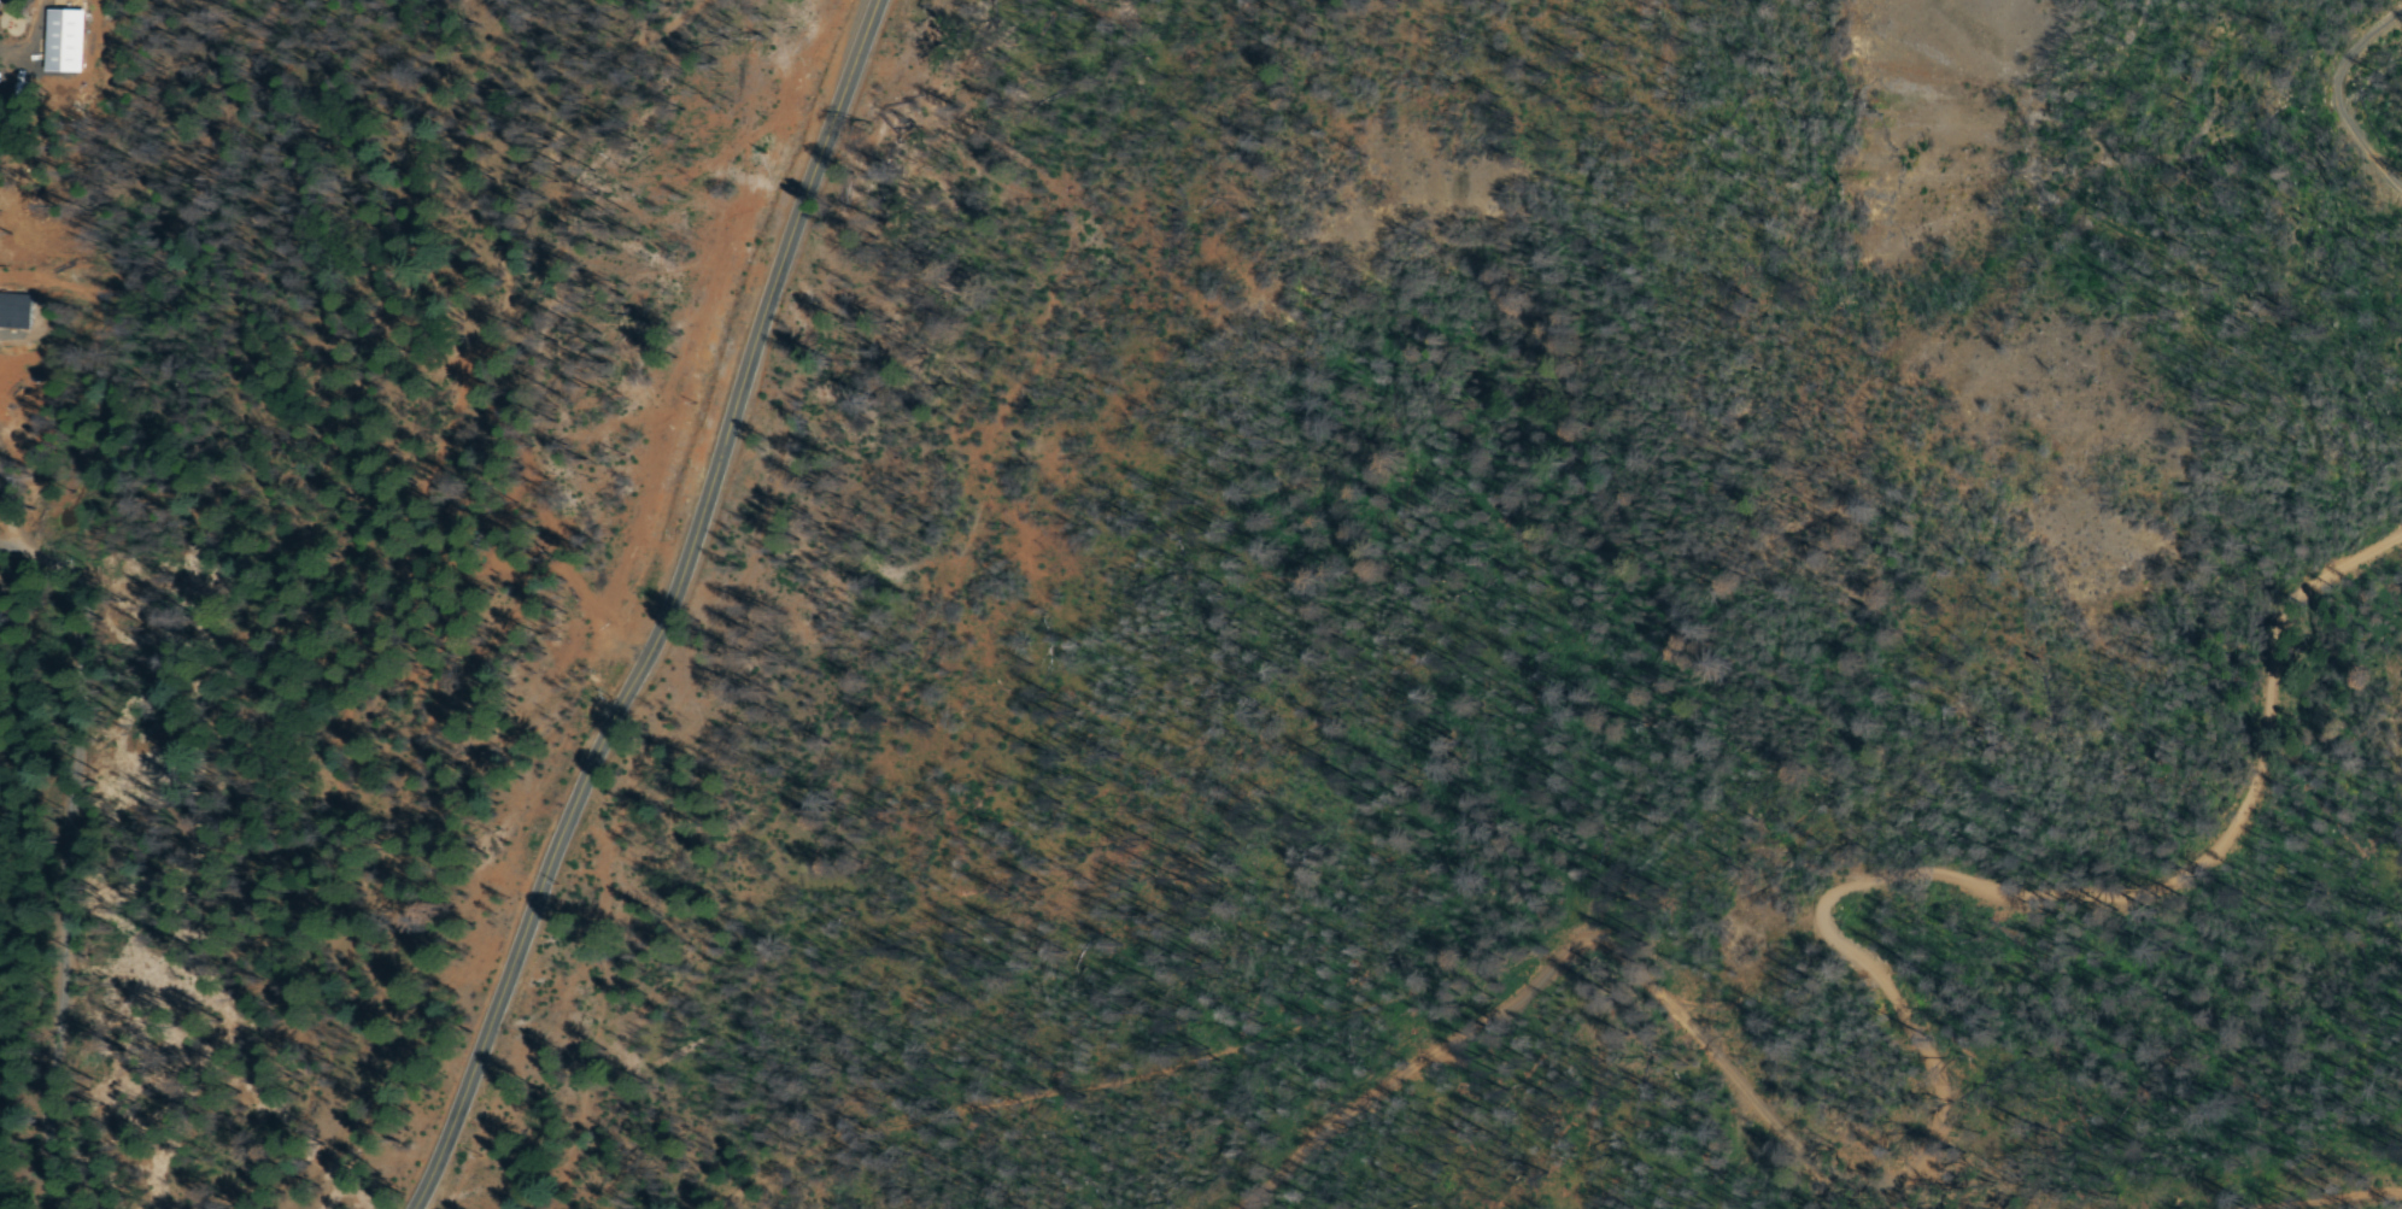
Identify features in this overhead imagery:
building: (57, 43)
road: (2356, 60)
road: (1, 581)
road: (664, 611)
road: (1833, 1019)

